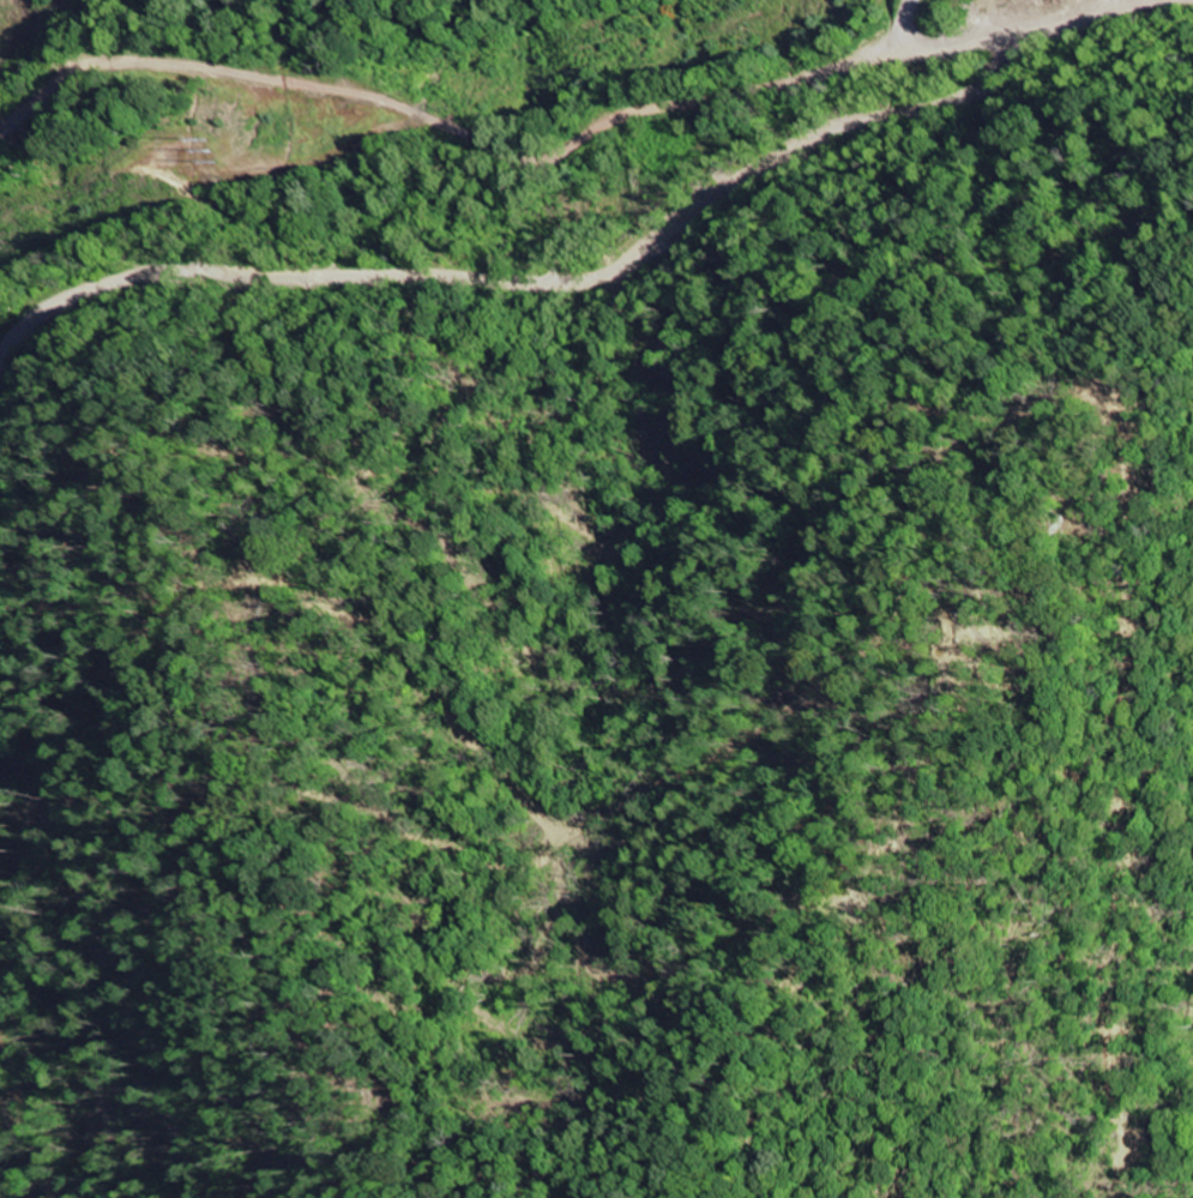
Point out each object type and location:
road: (909, 13)
road: (445, 126)
power tower: (210, 145)
power tower: (16, 235)

